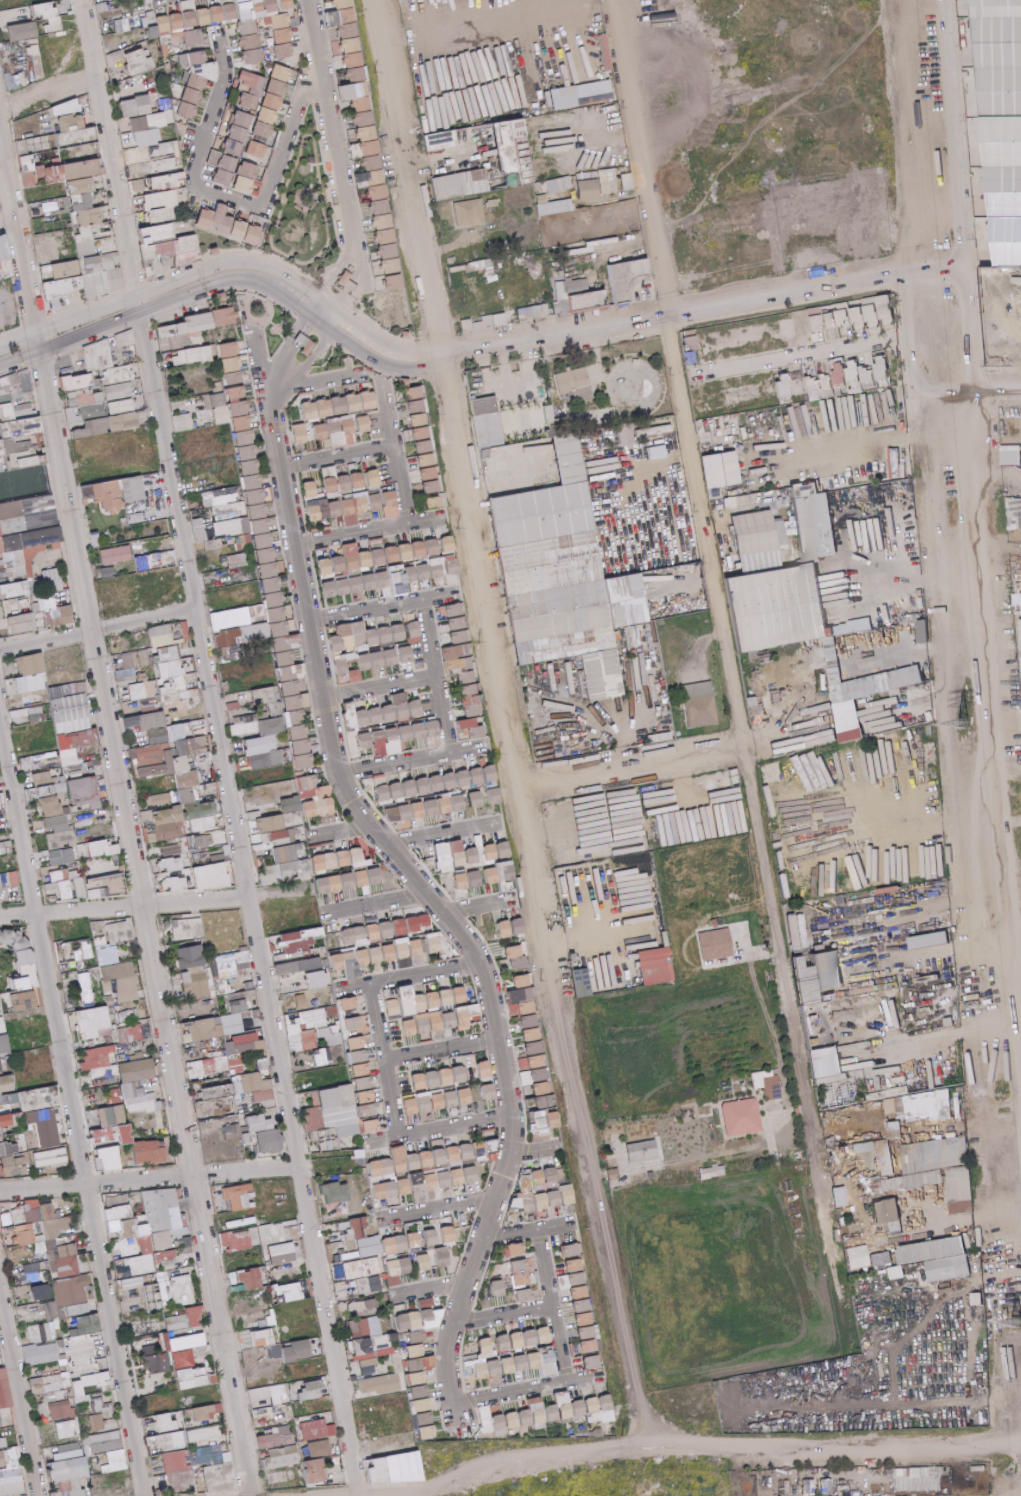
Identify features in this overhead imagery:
power tower: (371, 72)
power tower: (390, 188)
park: (305, 212)
power tower: (413, 297)
power tower: (433, 411)
power tower: (455, 526)
power tower: (475, 639)
power tower: (975, 722)
power tower: (497, 750)
power tower: (517, 863)
power tower: (535, 975)
power tower: (559, 1093)
power tower: (583, 1224)
power tower: (605, 1330)
power tower: (620, 1434)

